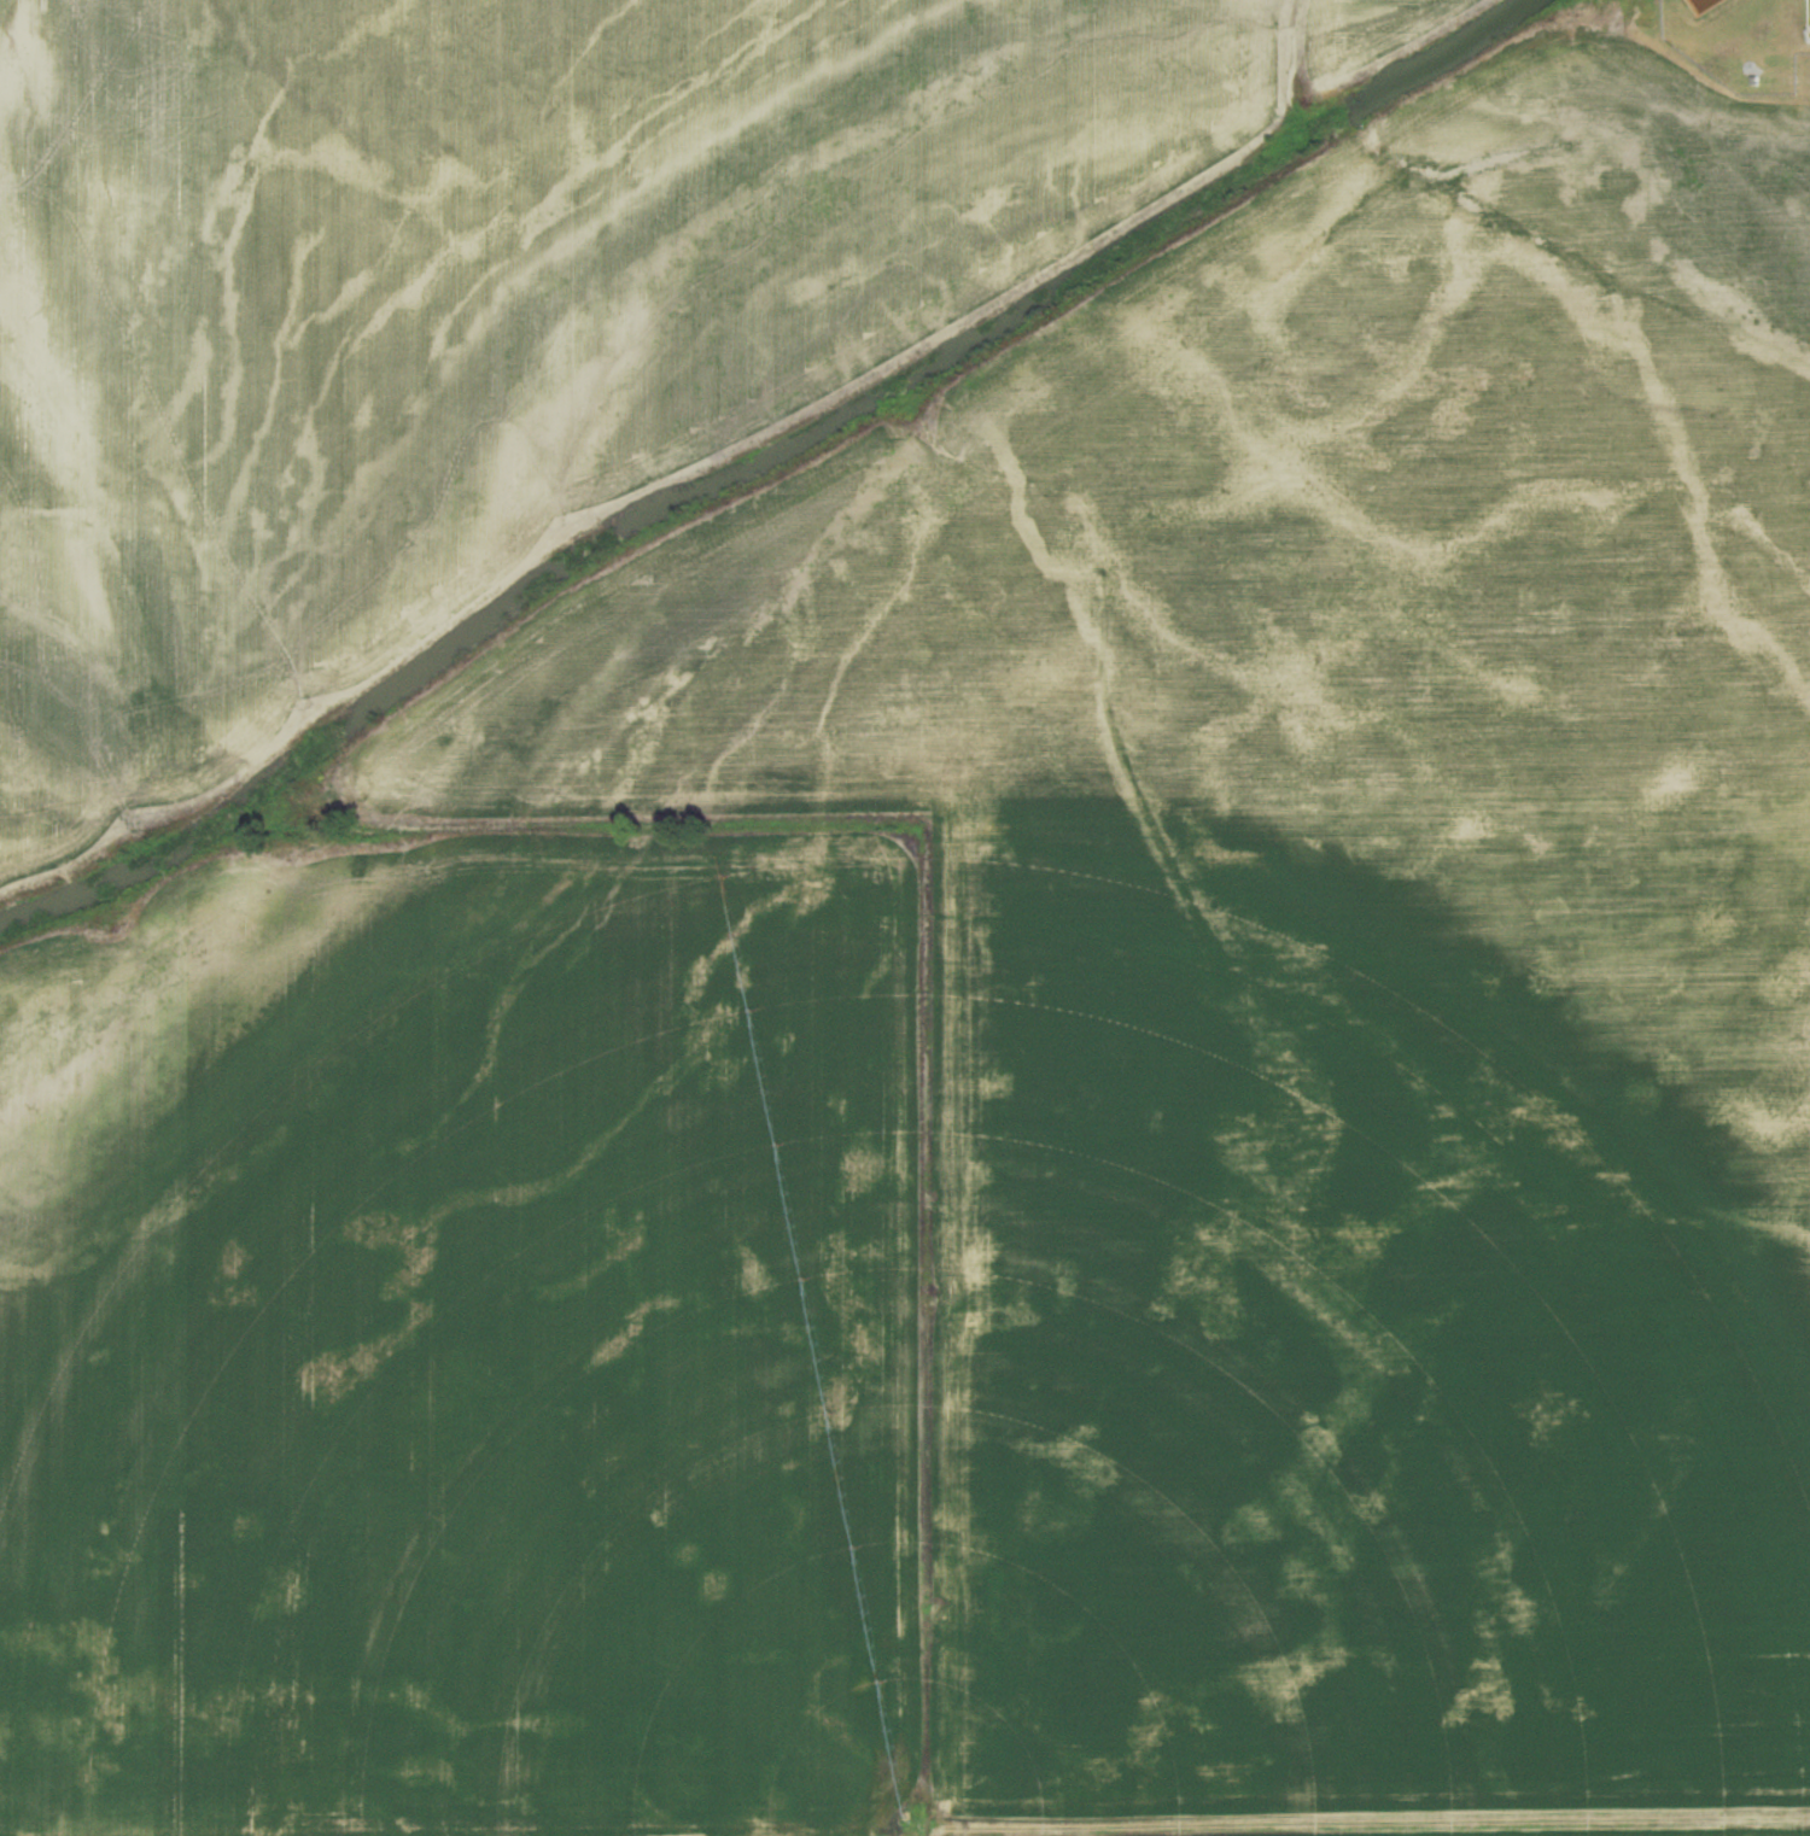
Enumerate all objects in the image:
road: (1166, 1828)

